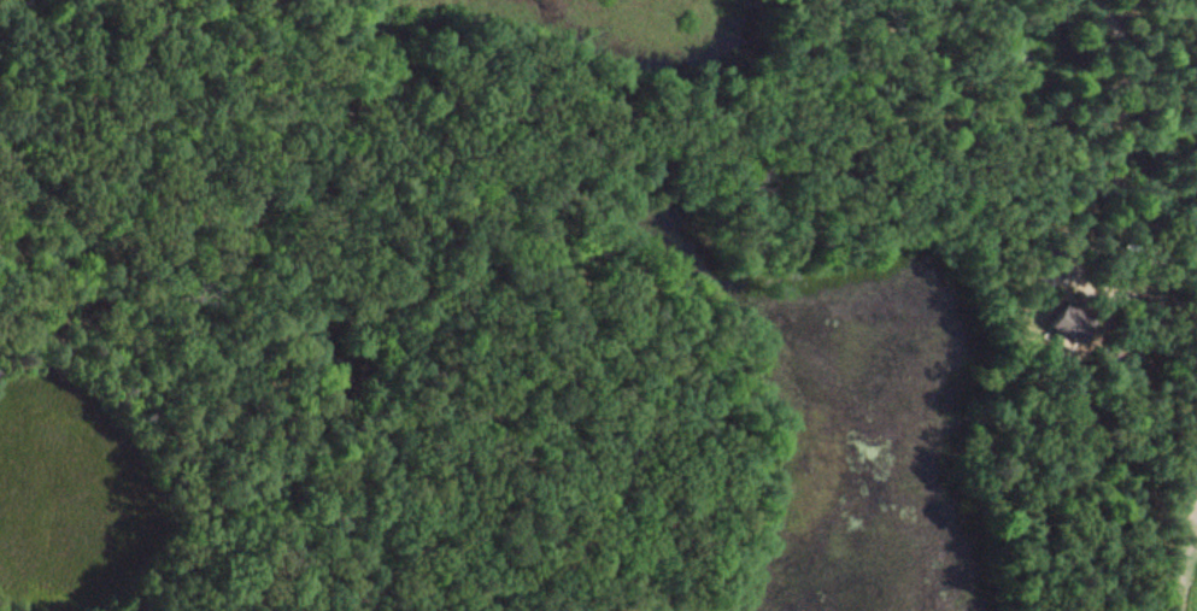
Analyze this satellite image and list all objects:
building: (1066, 316)

